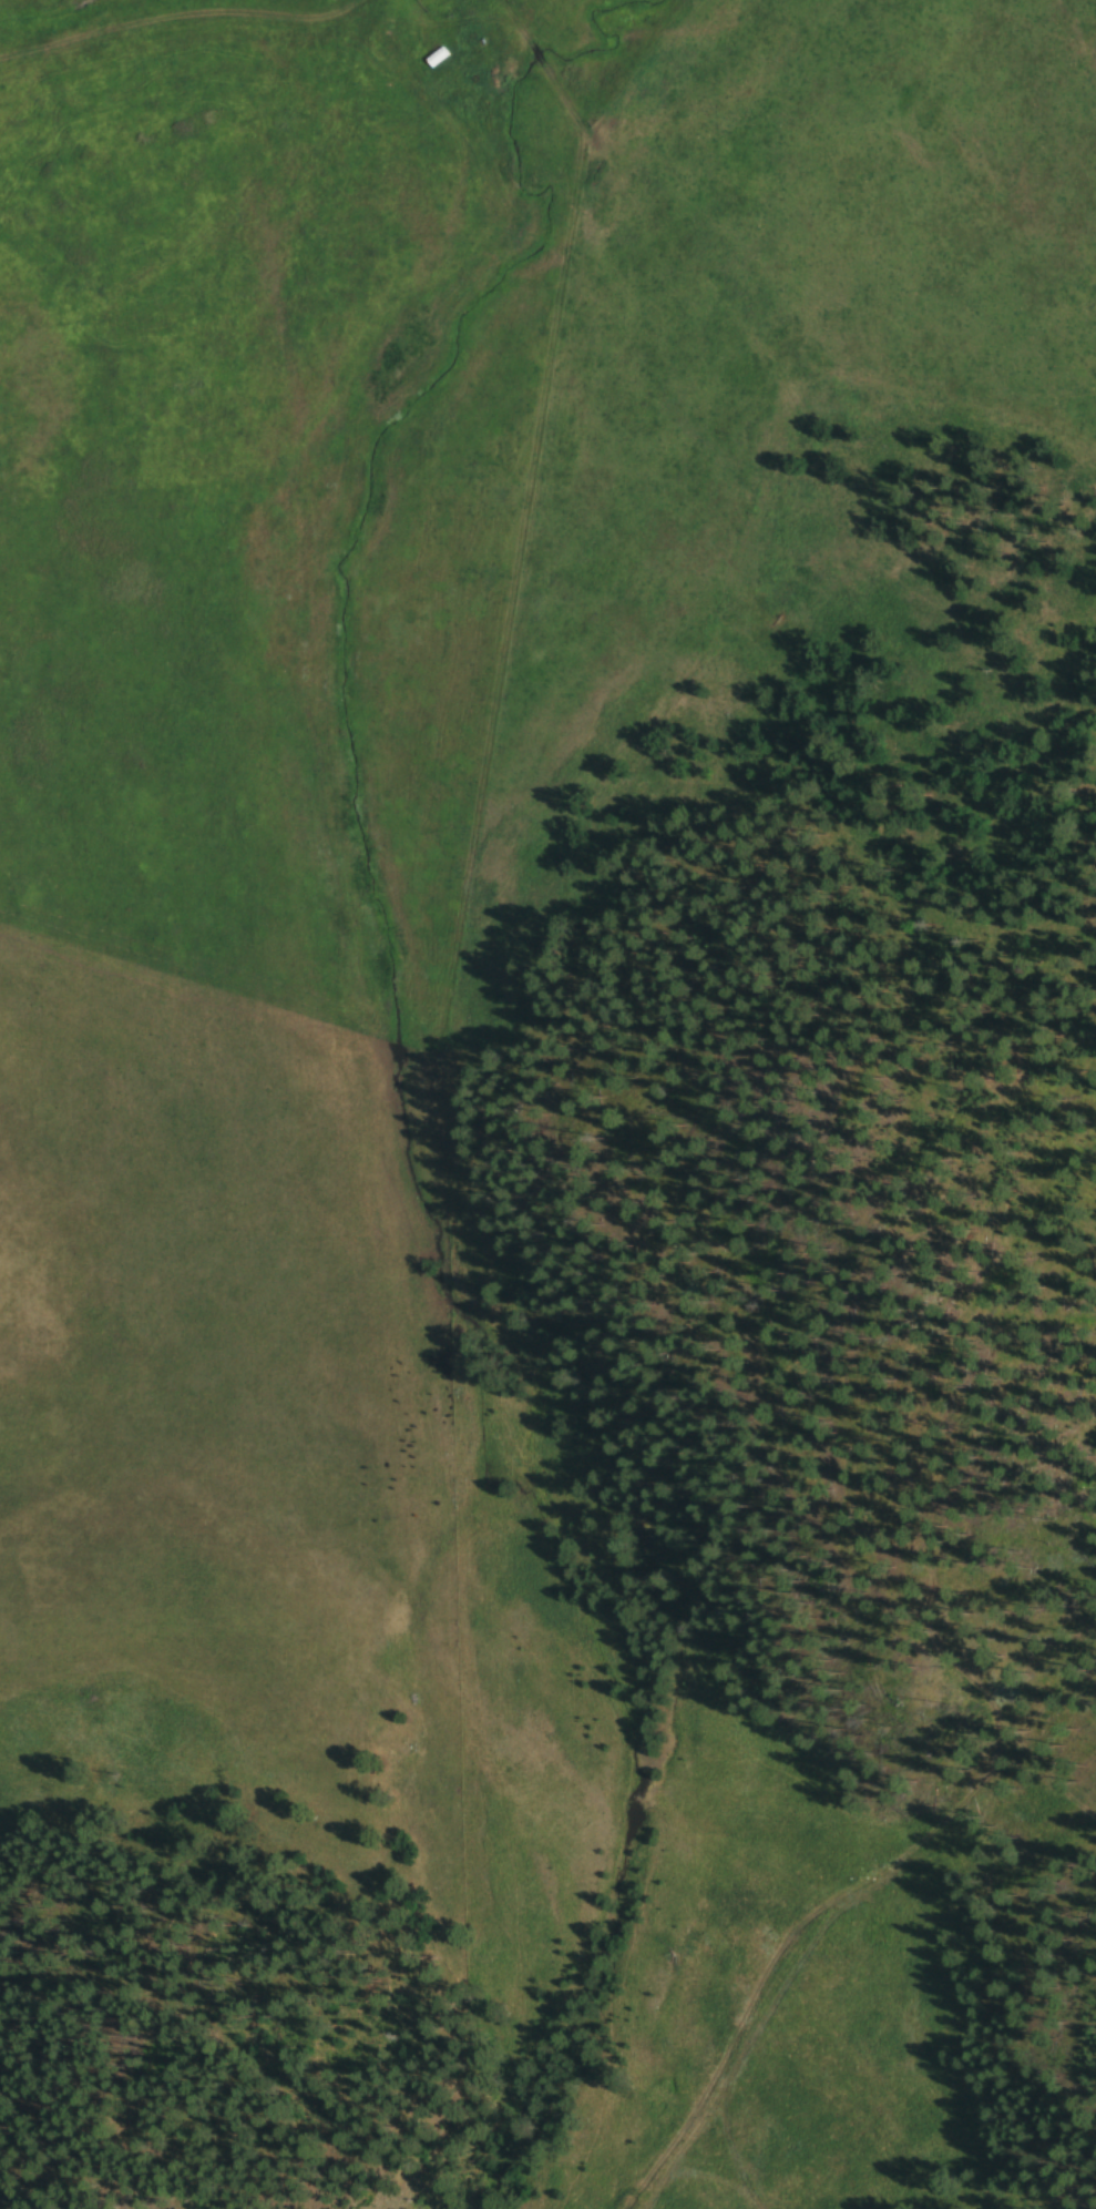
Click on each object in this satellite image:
road: (758, 1989)
road: (224, 2019)

